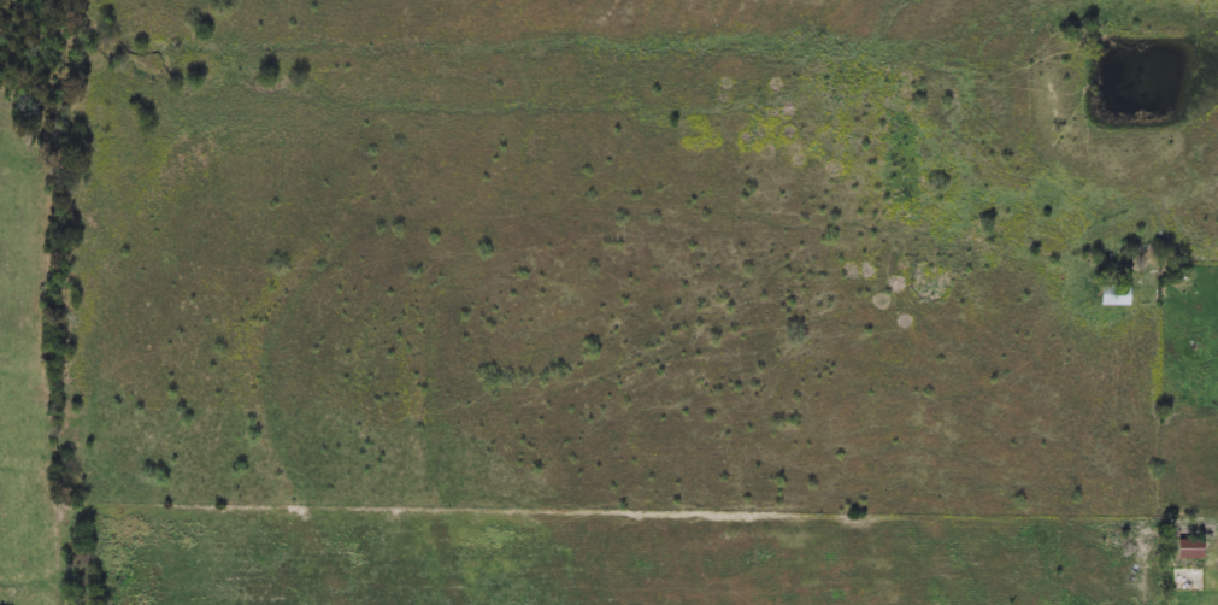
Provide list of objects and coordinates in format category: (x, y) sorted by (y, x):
building: (1114, 296)
building: (1190, 551)

